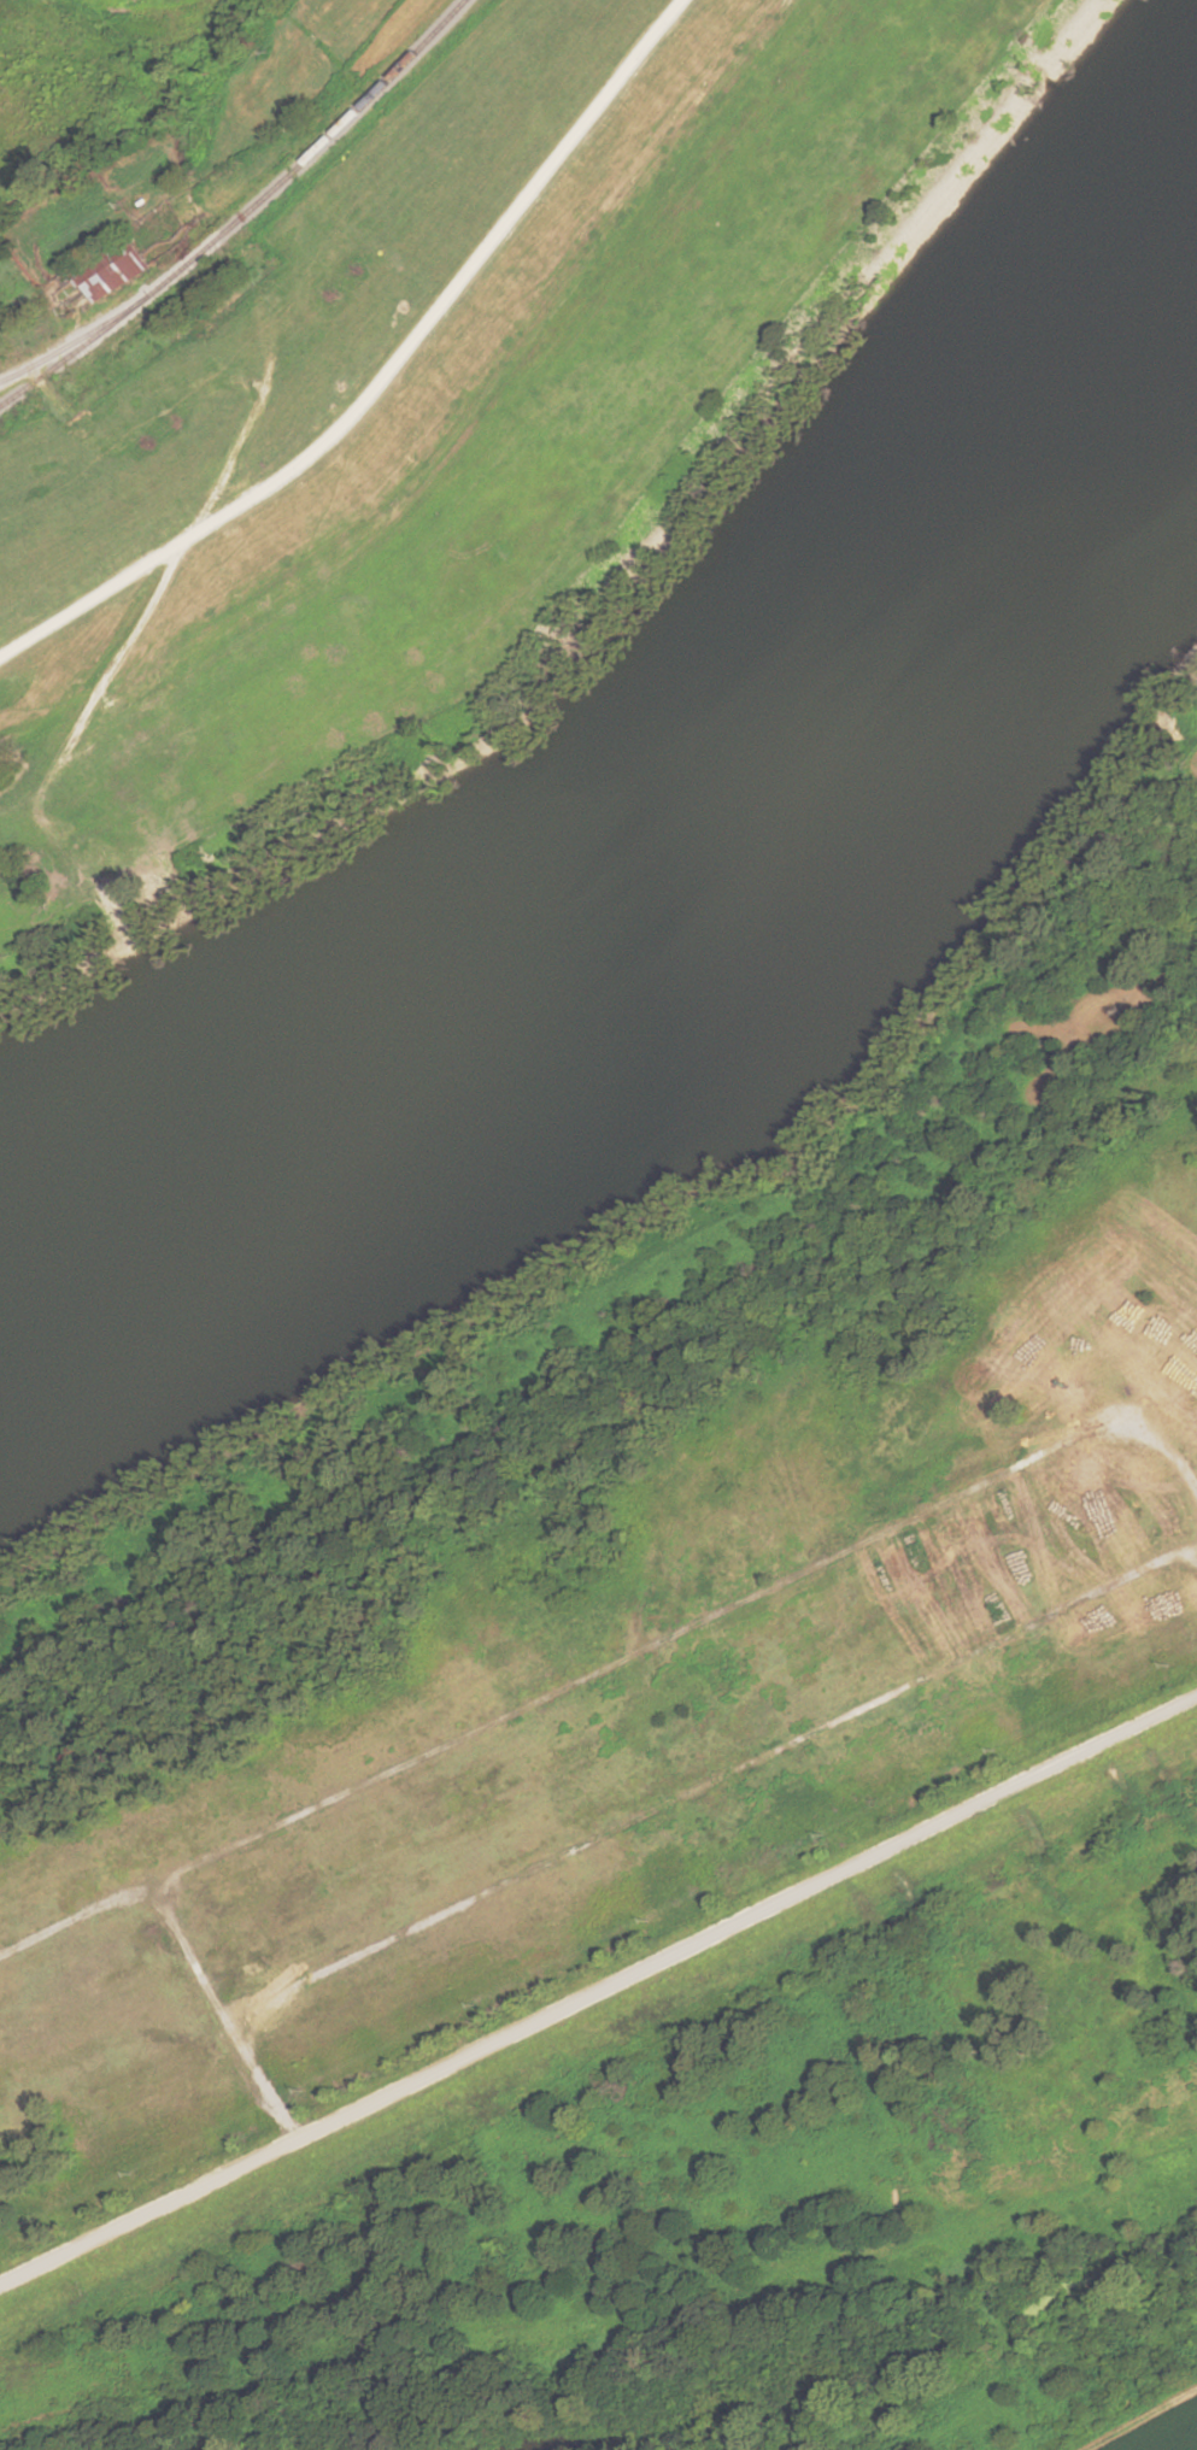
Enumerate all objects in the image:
railway: (245, 216)
road: (383, 369)
road: (599, 1993)

